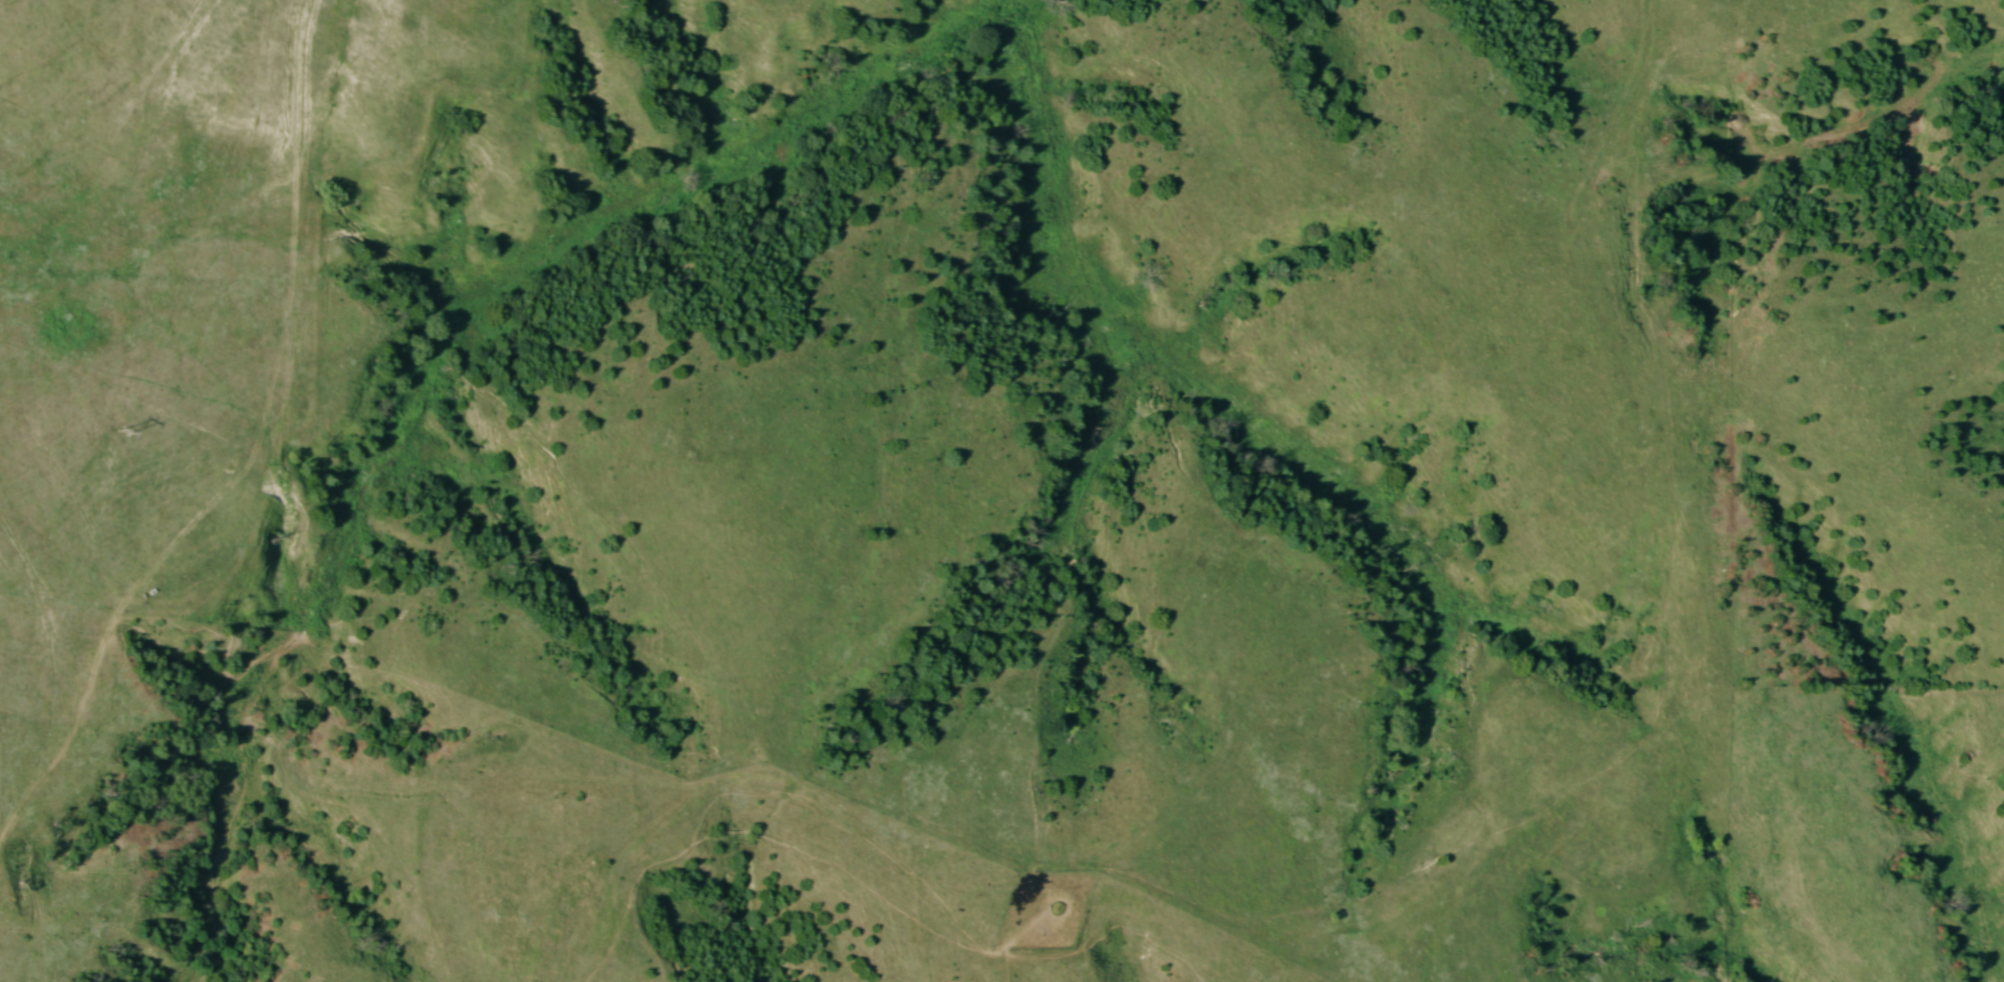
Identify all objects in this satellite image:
power tower: (119, 433)

